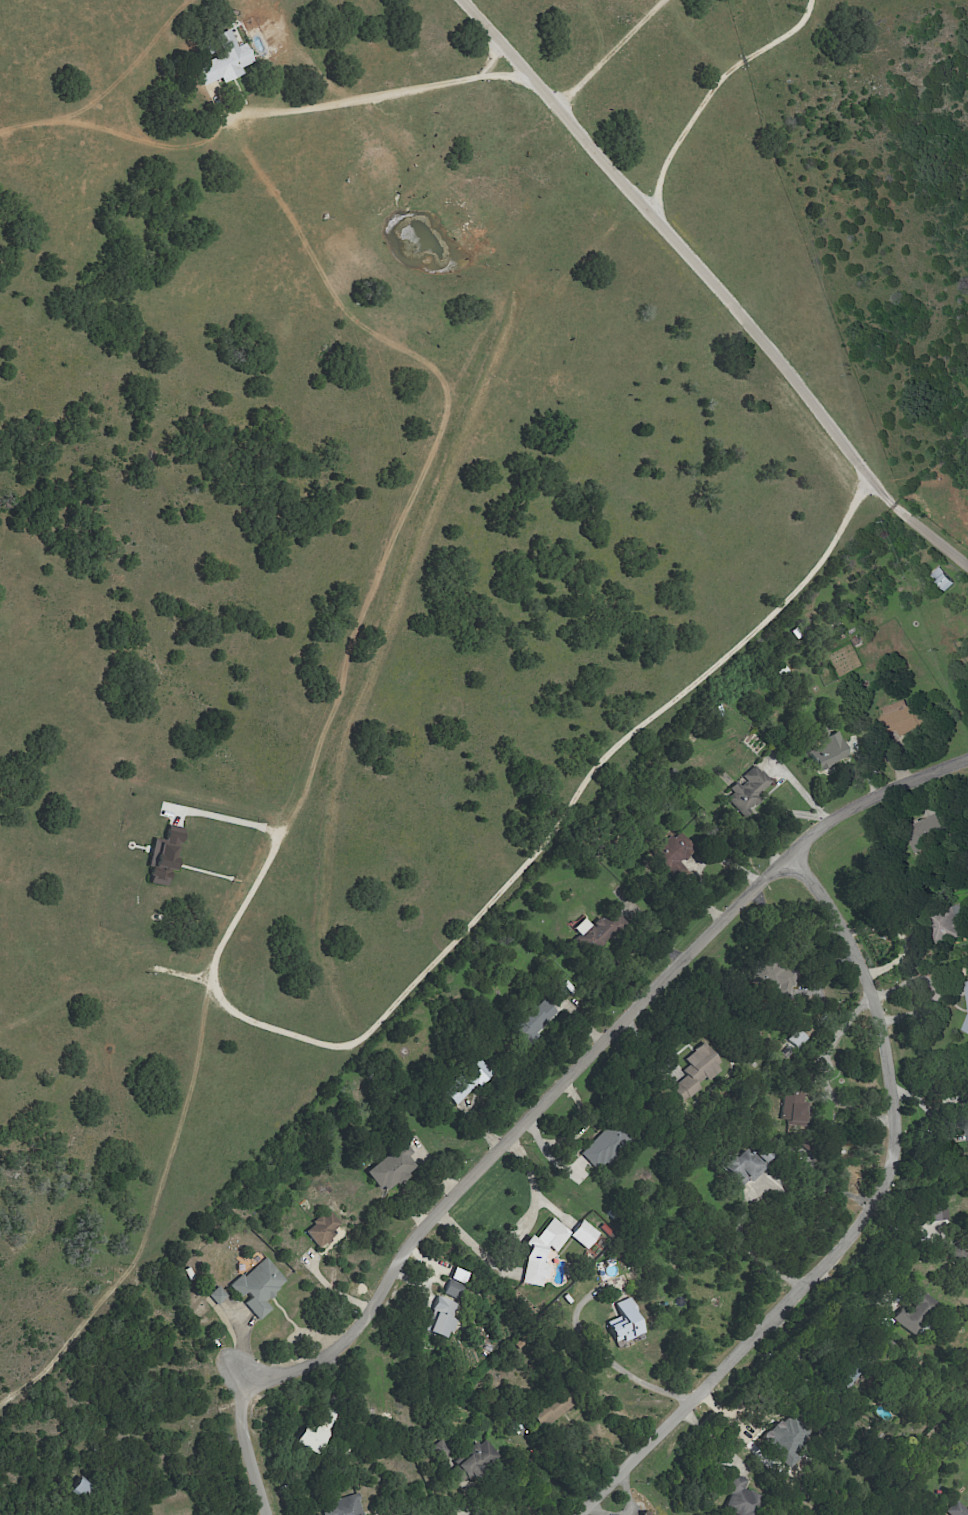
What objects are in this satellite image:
road: (608, 53)
road: (486, 54)
building: (222, 62)
road: (709, 91)
road: (390, 94)
road: (711, 285)
building: (942, 581)
building: (897, 717)
building: (825, 749)
building: (746, 786)
building: (670, 856)
building: (158, 857)
road: (475, 921)
building: (588, 934)
building: (767, 973)
road: (934, 988)
building: (966, 1001)
building: (530, 1021)
building: (792, 1039)
building: (692, 1070)
road: (825, 1077)
building: (463, 1083)
road: (549, 1106)
building: (790, 1109)
building: (965, 1126)
road: (575, 1134)
building: (594, 1150)
building: (390, 1167)
building: (735, 1167)
building: (936, 1214)
road: (862, 1227)
building: (319, 1228)
road: (516, 1233)
building: (547, 1247)
building: (961, 1255)
road: (751, 1258)
building: (254, 1286)
building: (214, 1295)
building: (911, 1309)
building: (440, 1317)
building: (619, 1322)
road: (96, 1352)
road: (612, 1367)
building: (846, 1377)
building: (548, 1409)
road: (739, 1431)
building: (313, 1432)
building: (779, 1437)
building: (438, 1450)
building: (472, 1457)
building: (734, 1495)
road: (465, 1502)
building: (340, 1506)
building: (954, 1509)
building: (641, 1513)

